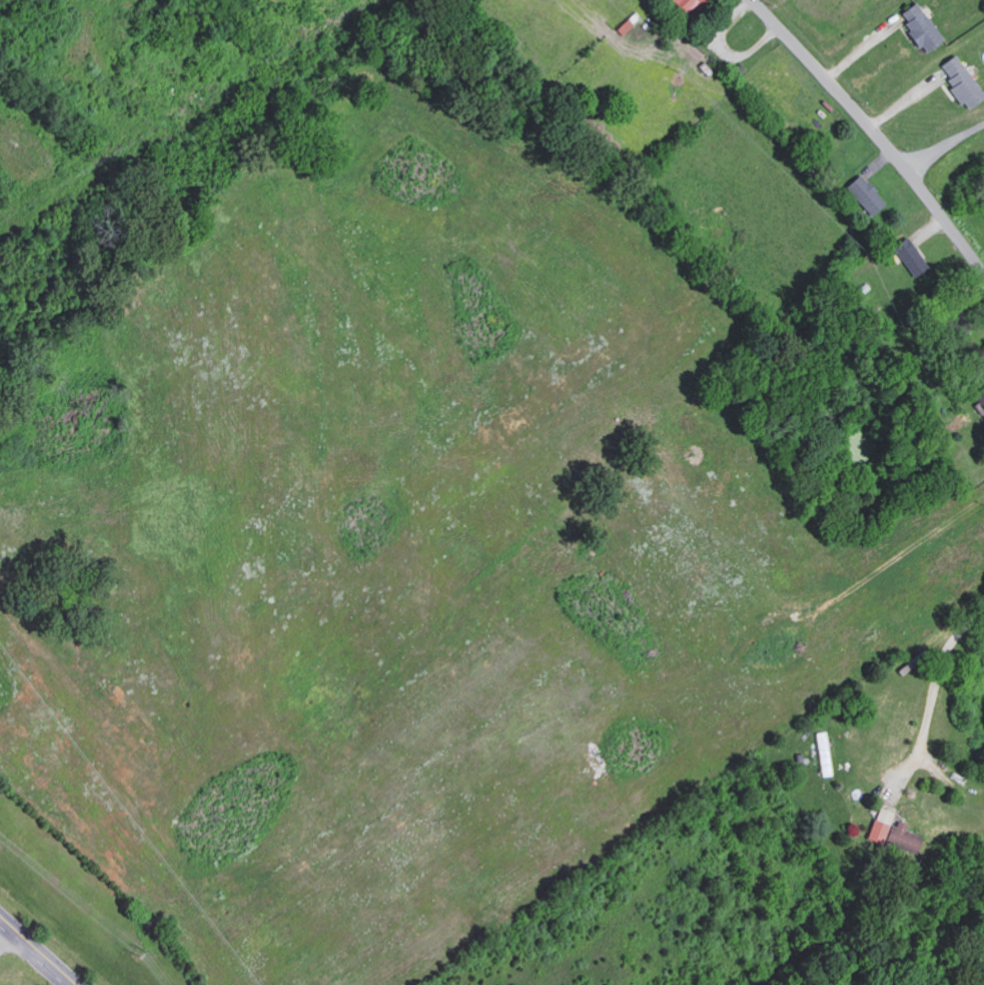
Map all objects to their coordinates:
building: (695, 4)
crop: (827, 10)
building: (927, 29)
building: (966, 83)
road: (874, 130)
road: (944, 143)
building: (871, 196)
building: (913, 255)
building: (982, 379)
road: (930, 691)
building: (879, 825)
building: (902, 837)
road: (5, 929)
road: (38, 951)

